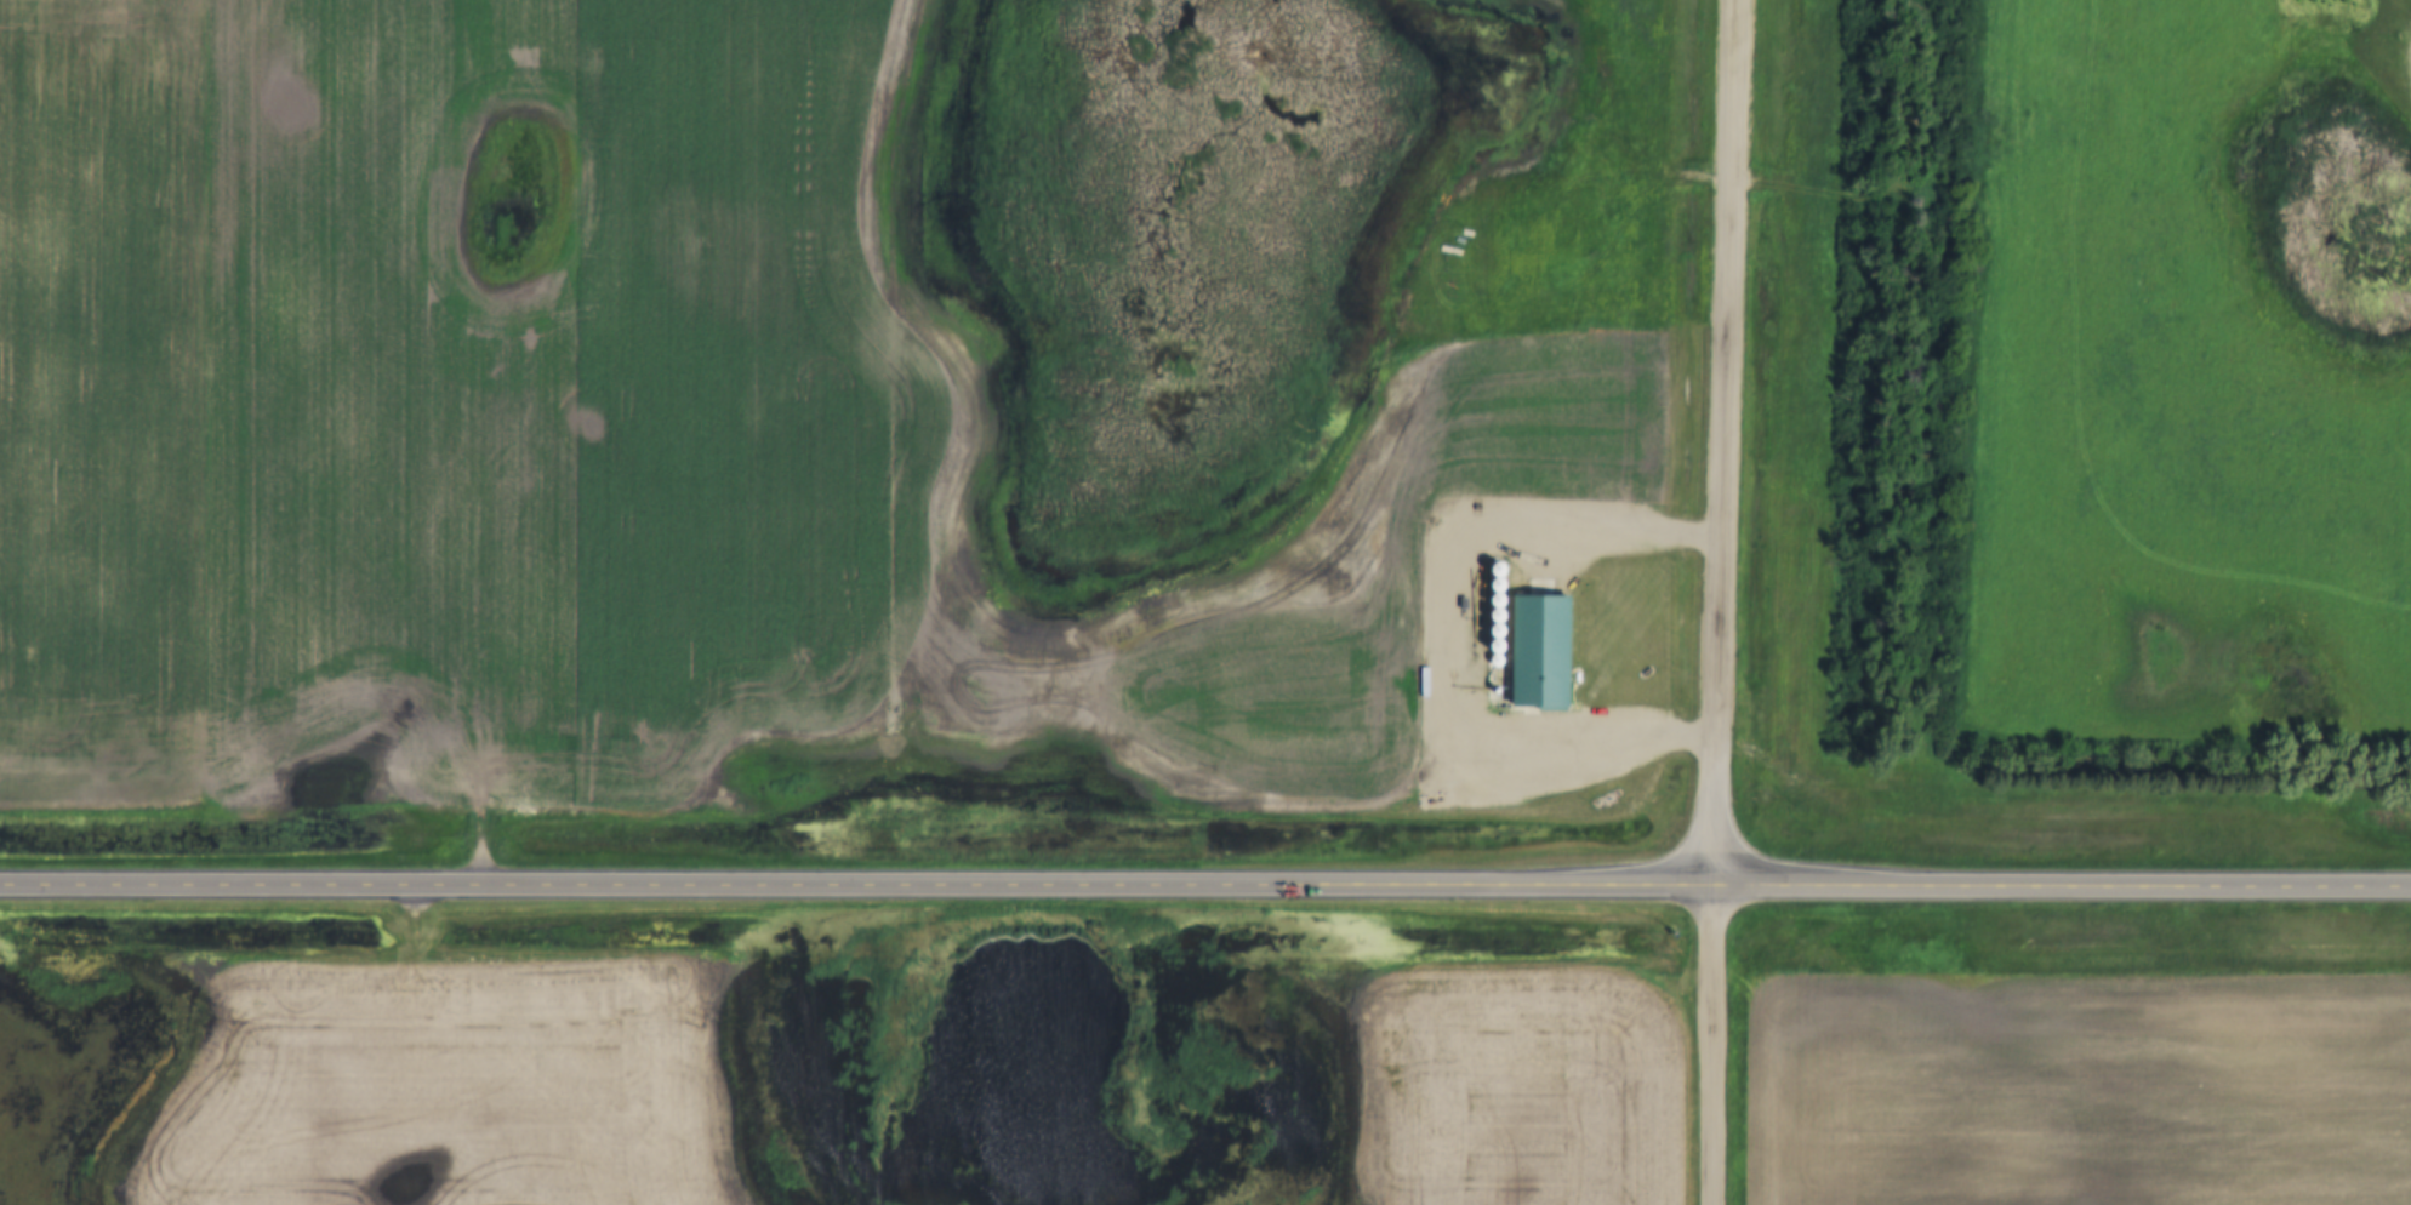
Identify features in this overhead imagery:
road: (1721, 444)
building: (1527, 655)
road: (1204, 886)
road: (1712, 1046)

